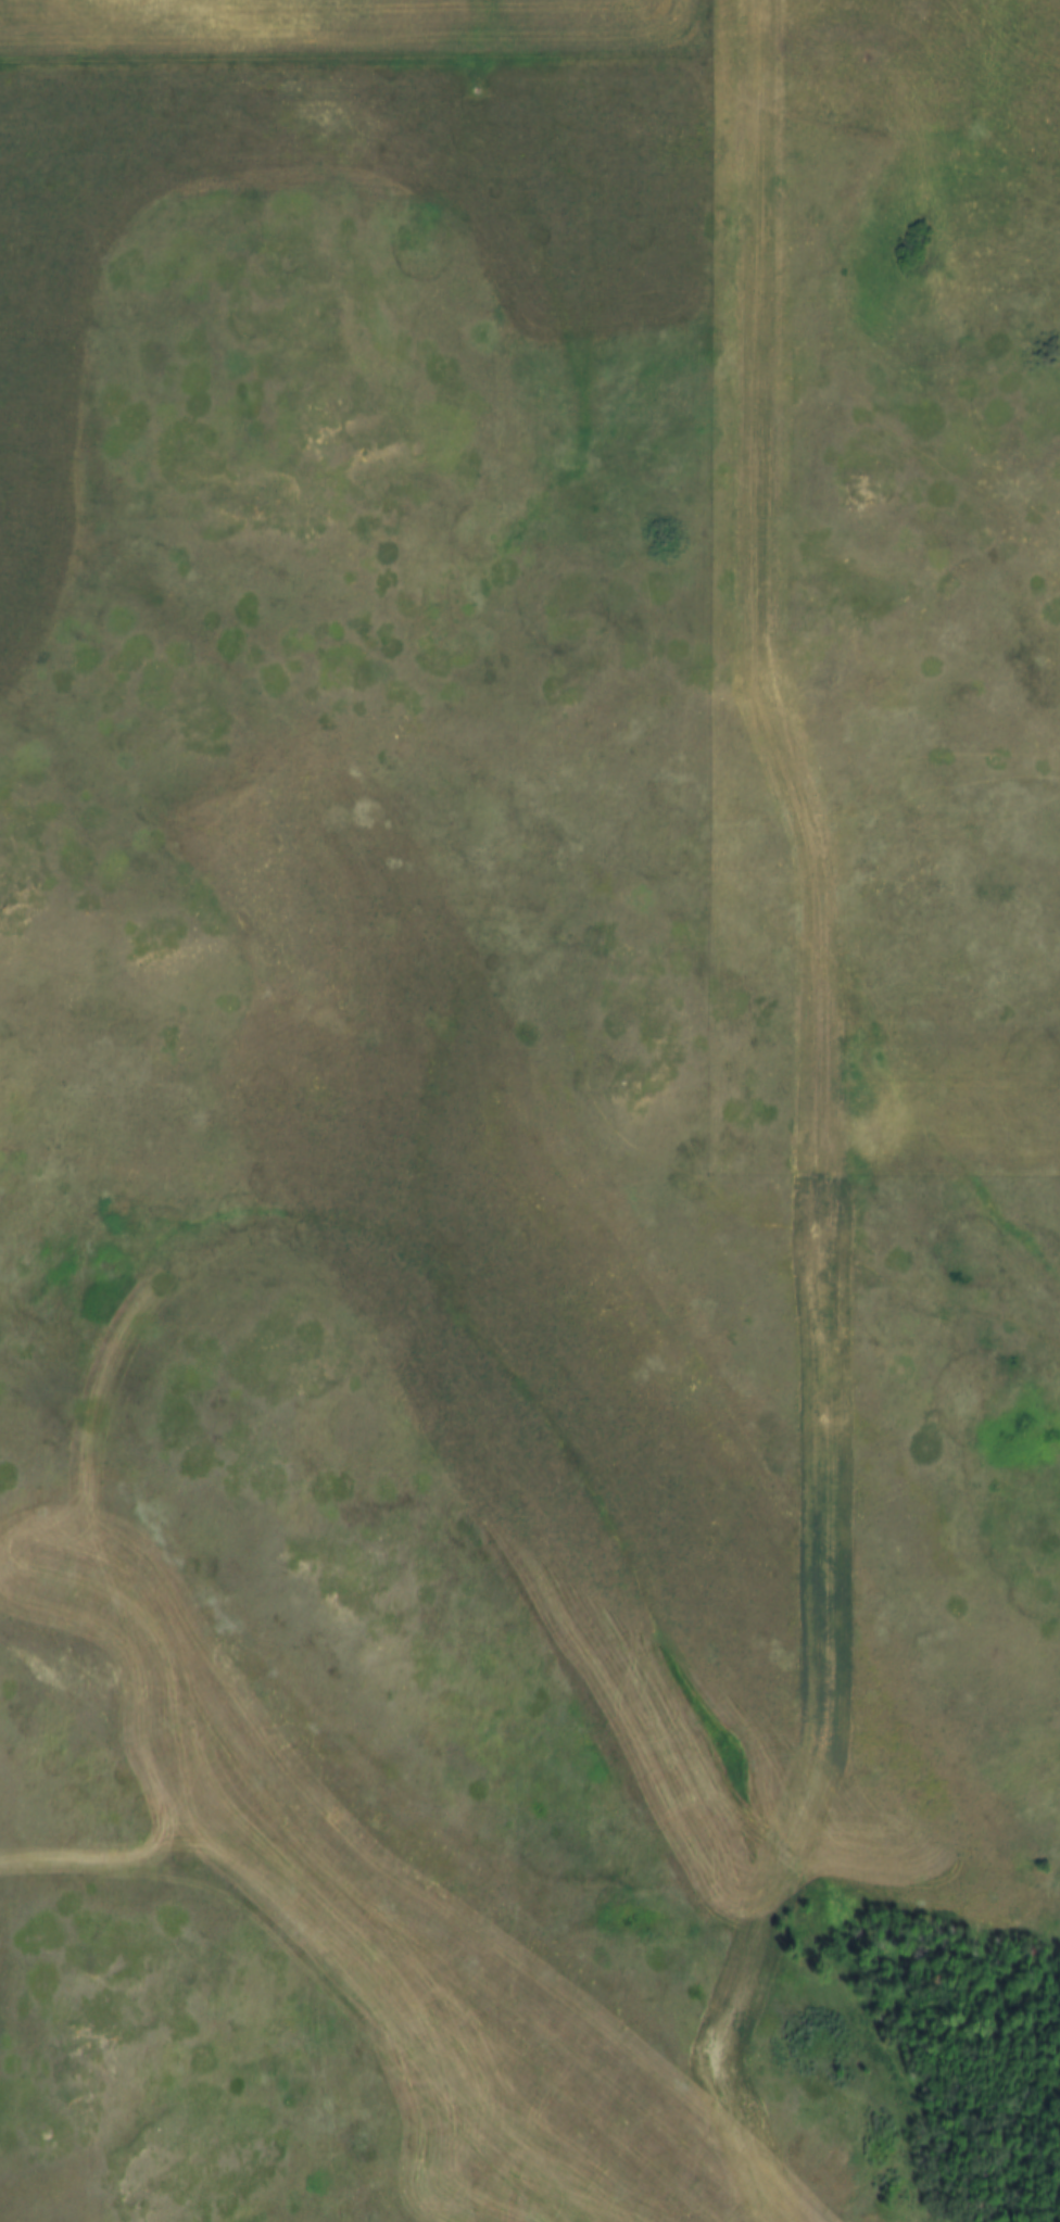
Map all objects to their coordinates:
road: (313, 1975)

